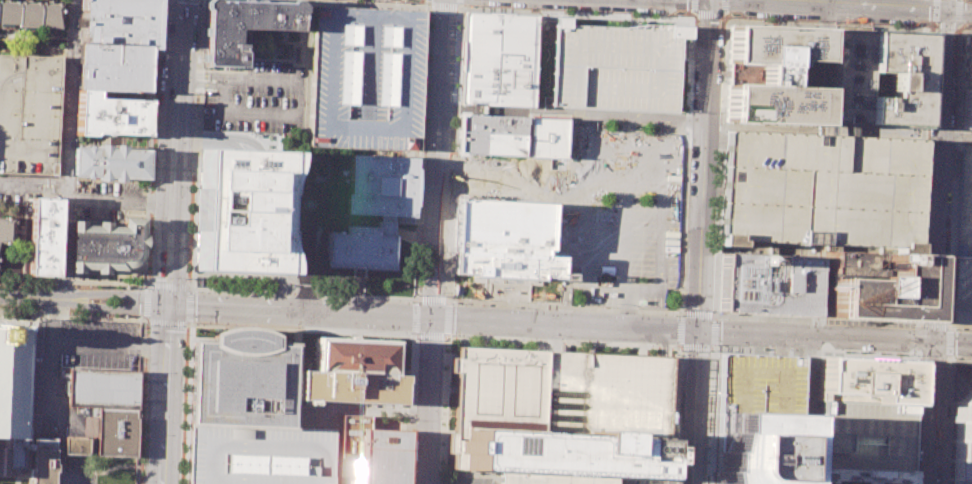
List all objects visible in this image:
street lamp: (319, 0)
road: (966, 1)
street lamp: (369, 2)
street lamp: (411, 2)
road: (367, 3)
road: (847, 4)
road: (444, 5)
road: (945, 5)
street lamp: (471, 6)
street lamp: (198, 9)
street lamp: (574, 11)
road: (958, 11)
street lamp: (626, 12)
building: (32, 13)
road: (710, 13)
road: (573, 14)
street lamp: (675, 15)
street lamp: (158, 17)
street lamp: (733, 17)
street lamp: (429, 19)
street lamp: (779, 19)
street lamp: (834, 21)
road: (828, 23)
street lamp: (875, 23)
street lamp: (919, 23)
road: (947, 24)
street lamp: (196, 25)
building: (242, 25)
street lamp: (722, 30)
road: (963, 31)
street lamp: (932, 34)
road: (963, 34)
road: (963, 36)
street lamp: (157, 40)
street lamp: (957, 42)
road: (962, 47)
street lamp: (197, 54)
building: (498, 59)
street lamp: (931, 60)
building: (967, 63)
building: (610, 64)
parking lot: (610, 64)
building: (114, 67)
road: (824, 68)
road: (959, 68)
street lamp: (157, 71)
building: (773, 74)
road: (201, 75)
building: (849, 75)
building: (895, 77)
building: (366, 79)
parking lot: (366, 79)
road: (225, 81)
road: (201, 85)
parking lot: (255, 98)
street lamp: (929, 102)
building: (966, 108)
road: (299, 109)
street lamp: (155, 110)
building: (30, 114)
parking garage: (30, 114)
road: (572, 115)
road: (821, 128)
street lamp: (154, 132)
road: (956, 132)
building: (490, 134)
road: (921, 136)
building: (547, 137)
road: (150, 141)
road: (954, 142)
road: (194, 143)
street lamp: (926, 145)
road: (69, 148)
road: (949, 150)
road: (174, 152)
road: (420, 152)
street lamp: (153, 156)
road: (454, 156)
road: (948, 159)
building: (109, 162)
road: (704, 165)
road: (949, 170)
street lamp: (926, 172)
road: (939, 176)
road: (952, 177)
road: (954, 177)
street lamp: (152, 178)
road: (921, 178)
street lamp: (192, 181)
road: (12, 183)
road: (25, 183)
building: (382, 189)
building: (820, 192)
parking lot: (820, 192)
street lamp: (925, 197)
parking lot: (108, 200)
road: (119, 201)
building: (964, 201)
parking lot: (964, 201)
building: (240, 209)
parking lot: (627, 213)
street lamp: (150, 217)
street lamp: (191, 219)
road: (568, 220)
building: (509, 224)
building: (8, 229)
building: (46, 236)
street lamp: (150, 237)
road: (433, 242)
building: (106, 245)
building: (360, 246)
street lamp: (149, 257)
street lamp: (189, 258)
road: (304, 258)
road: (946, 263)
road: (716, 270)
road: (245, 274)
street lamp: (188, 278)
road: (73, 279)
road: (682, 279)
road: (946, 279)
building: (764, 284)
road: (168, 286)
building: (868, 286)
street lamp: (135, 287)
building: (963, 290)
parking lot: (963, 290)
road: (112, 292)
street lamp: (200, 292)
road: (304, 294)
road: (28, 296)
road: (432, 300)
road: (145, 301)
street lamp: (410, 301)
road: (416, 301)
road: (189, 303)
traffic signals: (168, 304)
road: (944, 304)
street lamp: (509, 306)
road: (111, 307)
street lamp: (615, 309)
street lamp: (683, 309)
street lamp: (711, 311)
road: (681, 313)
road: (698, 314)
road: (945, 314)
road: (72, 315)
street lamp: (675, 315)
road: (714, 315)
road: (416, 317)
road: (448, 318)
traffic signals: (430, 319)
road: (432, 319)
street lamp: (948, 319)
road: (16, 321)
road: (144, 321)
road: (166, 322)
road: (189, 322)
street lamp: (194, 322)
street lamp: (145, 324)
street lamp: (840, 324)
road: (933, 326)
road: (949, 327)
road: (960, 327)
road: (301, 329)
street lamp: (954, 329)
road: (680, 330)
road: (714, 331)
road: (464, 332)
traffic signals: (698, 332)
road: (415, 333)
street lamp: (186, 334)
road: (447, 334)
street lamp: (449, 334)
road: (430, 335)
road: (815, 337)
flagpole: (409, 338)
road: (554, 338)
road: (918, 338)
street lamp: (443, 339)
street lamp: (568, 341)
traffic signals: (934, 342)
road: (948, 342)
road: (953, 342)
road: (665, 343)
road: (85, 344)
road: (116, 344)
road: (468, 344)
road: (631, 344)
street lamp: (716, 344)
road: (759, 344)
street lamp: (673, 345)
road: (780, 345)
road: (562, 346)
road: (678, 347)
road: (689, 347)
road: (703, 347)
road: (714, 348)
road: (800, 348)
street lamp: (680, 350)
street lamp: (710, 350)
road: (810, 352)
road: (669, 353)
street lamp: (911, 353)
road: (917, 354)
road: (660, 355)
parking lot: (75, 357)
road: (932, 358)
road: (958, 359)
road: (52, 363)
road: (708, 363)
street lamp: (919, 363)
road: (165, 367)
road: (813, 367)
building: (963, 368)
street lamp: (145, 369)
road: (716, 373)
building: (352, 374)
road: (953, 377)
building: (864, 380)
building: (241, 381)
road: (915, 382)
street lamp: (184, 385)
street lamp: (144, 386)
building: (756, 386)
building: (103, 387)
parking garage: (756, 387)
road: (954, 389)
building: (13, 398)
road: (445, 400)
road: (140, 402)
street lamp: (143, 402)
road: (187, 404)
road: (445, 406)
road: (694, 407)
road: (362, 409)
road: (413, 409)
road: (931, 412)
building: (560, 415)
road: (946, 419)
street lamp: (408, 420)
road: (921, 421)
road: (920, 430)
building: (116, 431)
street lamp: (141, 434)
building: (864, 435)
parking lot: (864, 435)
road: (912, 436)
building: (961, 440)
road: (61, 441)
building: (76, 446)
street lamp: (141, 449)
building: (757, 450)
road: (31, 453)
building: (371, 453)
building: (258, 456)
parking lot: (258, 456)
road: (161, 457)
building: (44, 460)
street lamp: (140, 465)
parking lot: (79, 473)
road: (60, 475)
road: (633, 475)
building: (860, 475)
road: (28, 476)
road: (457, 476)
road: (471, 476)
road: (17, 477)
road: (659, 480)
road: (666, 480)
street lamp: (140, 481)
road: (500, 483)
building: (822, 483)

